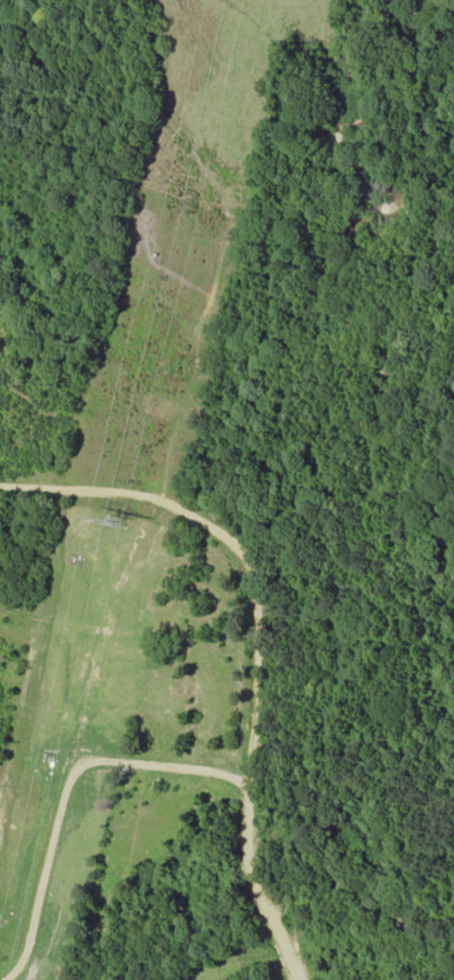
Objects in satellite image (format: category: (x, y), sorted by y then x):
power tower: (133, 526)
road: (255, 639)

